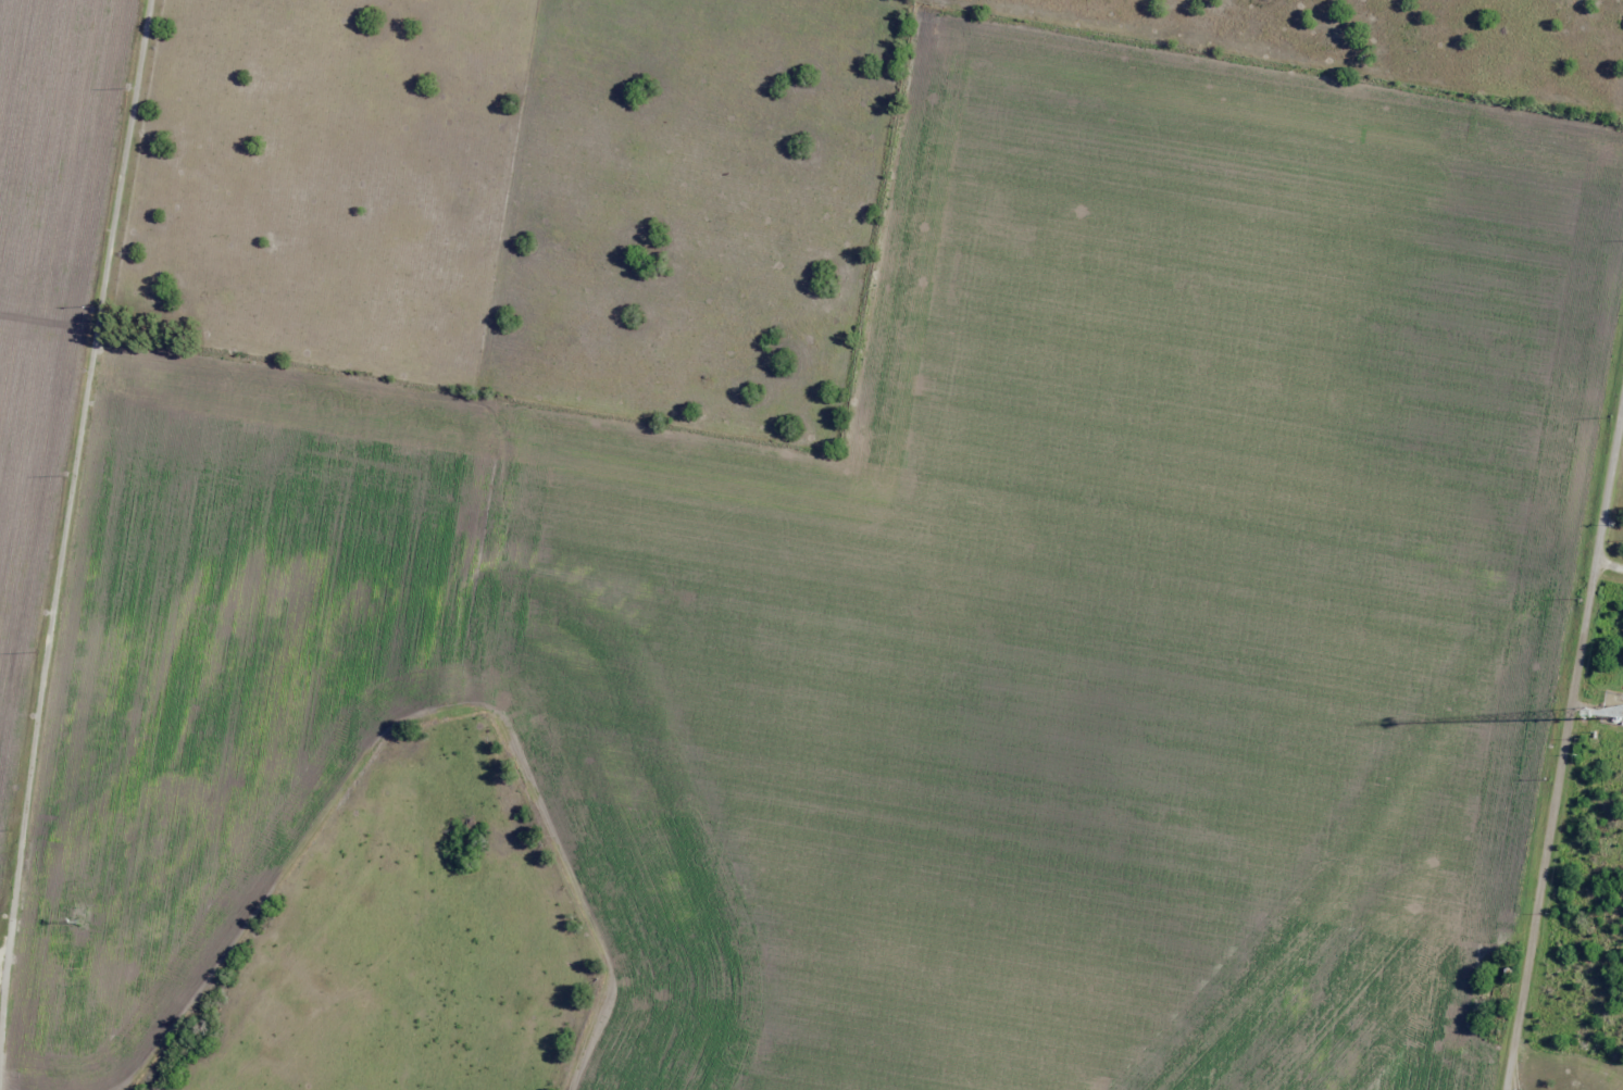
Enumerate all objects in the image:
road: (78, 476)
road: (1588, 869)

